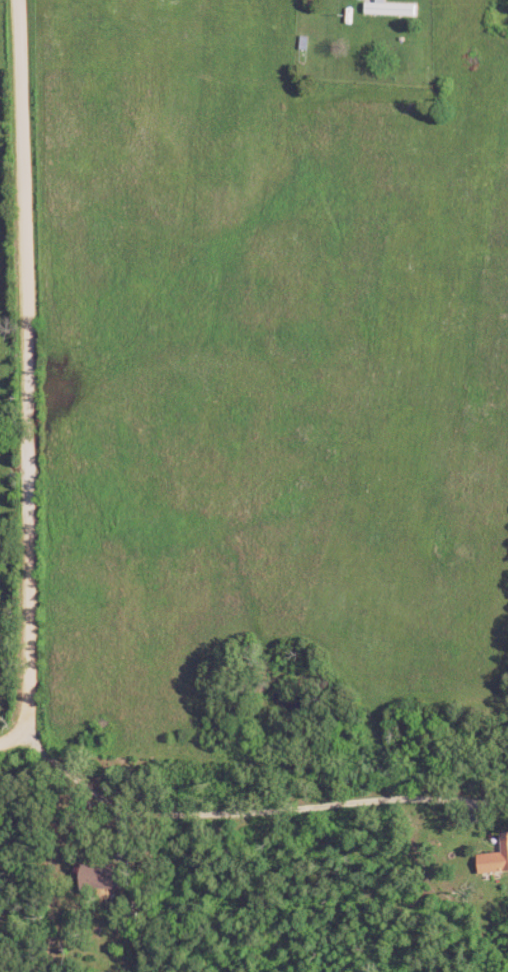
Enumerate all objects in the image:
building: (394, 9)
road: (38, 388)
road: (182, 721)
building: (496, 860)
building: (109, 878)

